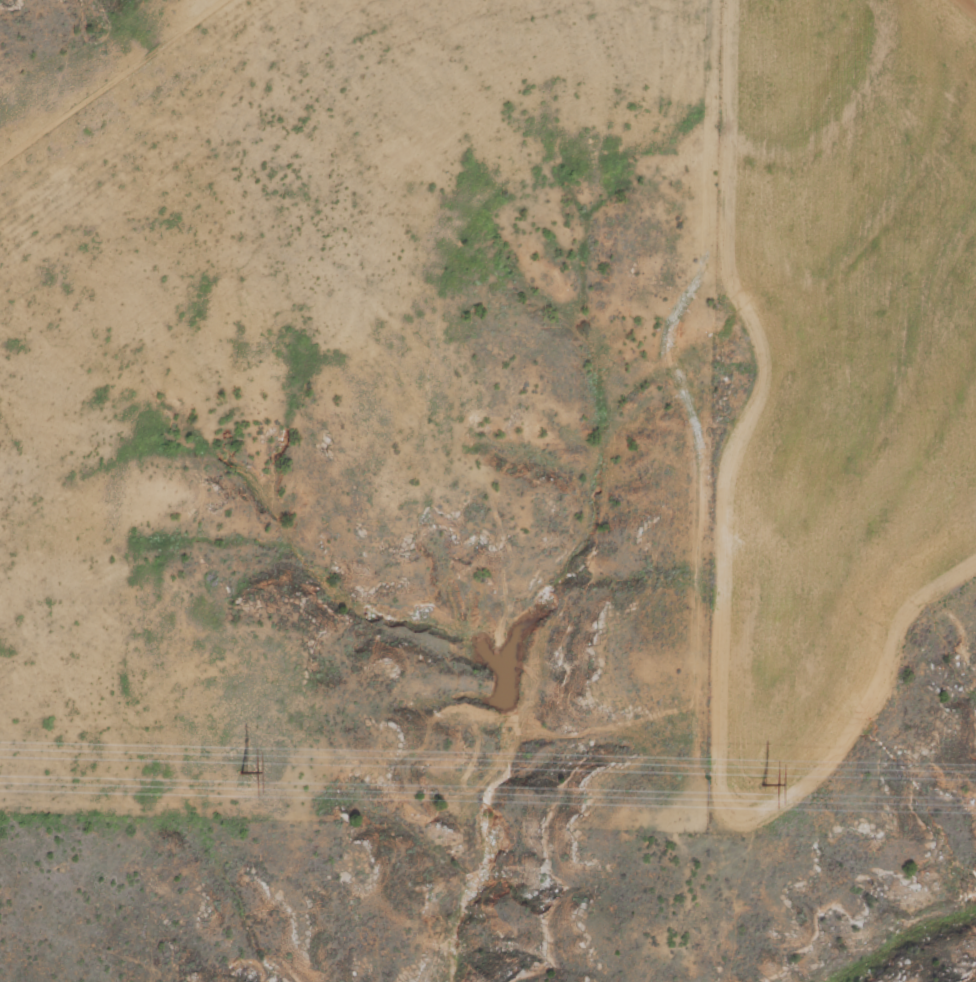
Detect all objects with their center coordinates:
road: (115, 81)
power tower: (243, 771)
power tower: (764, 783)

